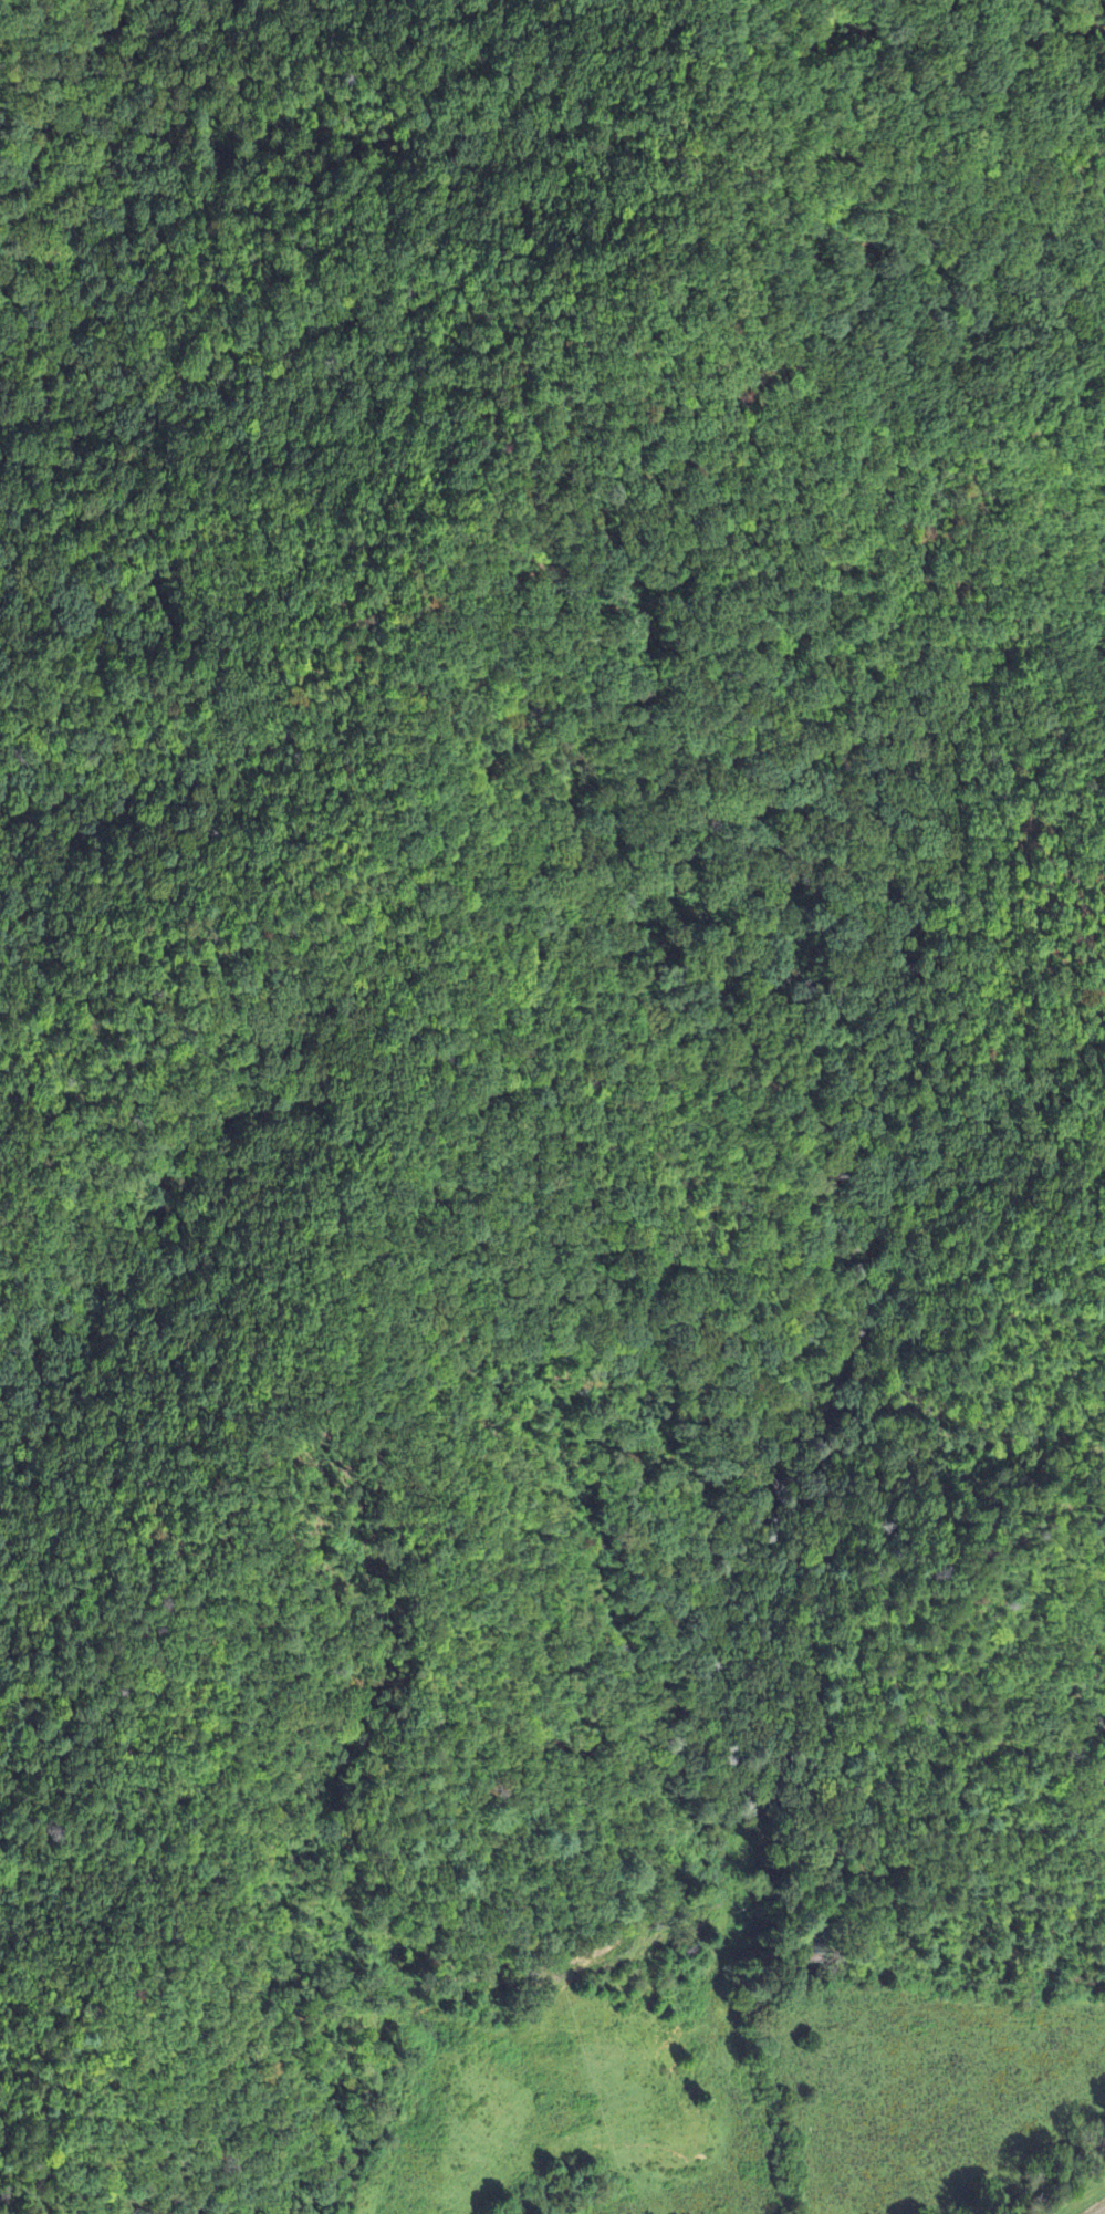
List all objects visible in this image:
river: (1038, 2171)
railway: (1096, 2208)

